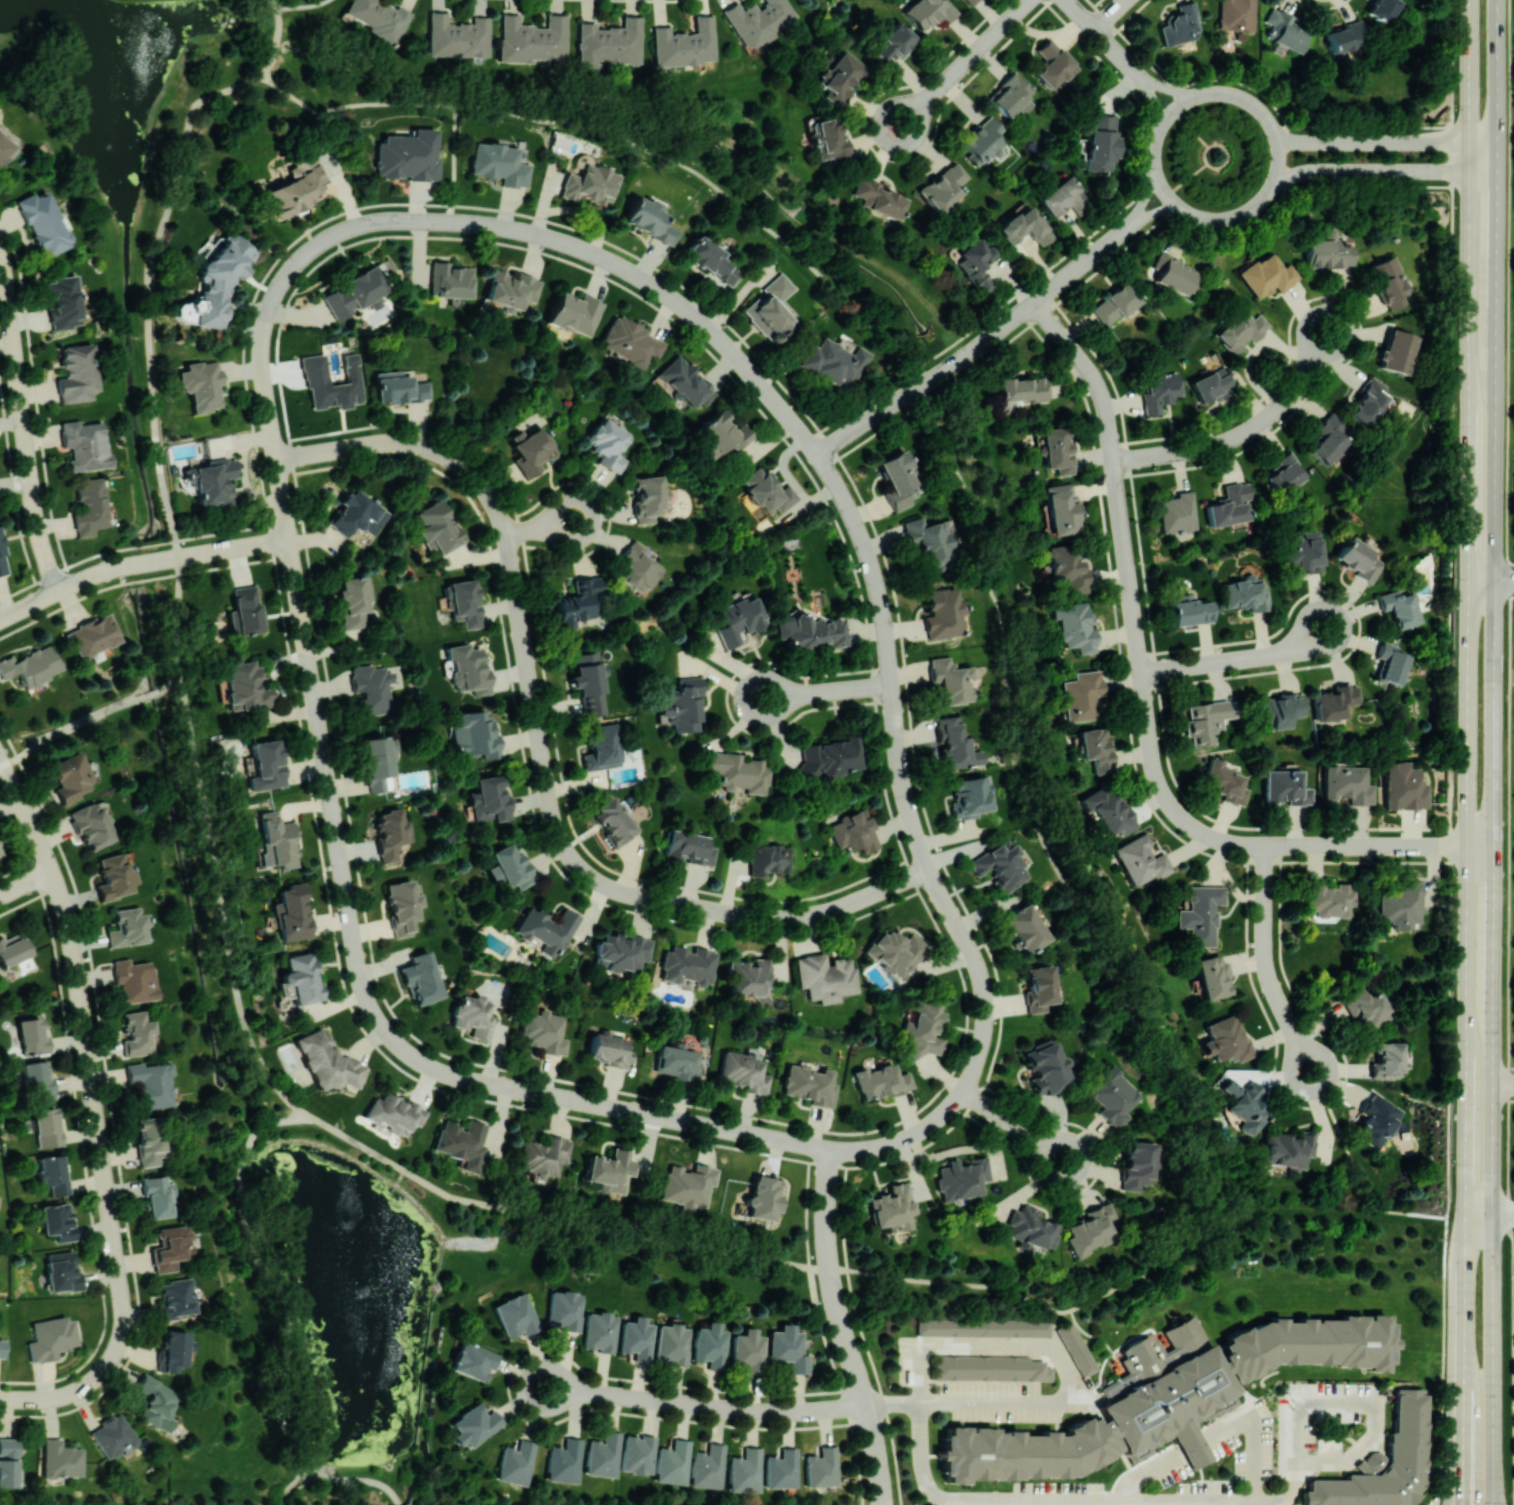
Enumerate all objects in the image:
building: (968, 2)
road: (302, 6)
building: (1381, 9)
building: (929, 12)
building: (1236, 14)
road: (1111, 15)
fountain: (155, 18)
building: (379, 19)
building: (758, 20)
building: (1180, 24)
building: (1285, 30)
building: (457, 36)
road: (1103, 37)
road: (277, 38)
building: (531, 39)
building: (1346, 40)
building: (892, 42)
building: (608, 43)
building: (684, 43)
road: (964, 63)
building: (1051, 64)
road: (1497, 72)
building: (839, 76)
road: (1152, 80)
road: (1470, 86)
road: (1180, 92)
building: (1012, 95)
road: (1155, 97)
road: (1191, 127)
building: (828, 139)
building: (982, 140)
road: (630, 141)
building: (1100, 141)
road: (1386, 143)
fountain: (112, 144)
building: (5, 145)
building: (409, 155)
road: (1202, 156)
building: (499, 163)
road: (454, 164)
road: (1383, 170)
road: (1186, 178)
building: (589, 184)
building: (942, 186)
building: (294, 188)
building: (1059, 196)
building: (878, 198)
road: (1263, 198)
road: (1143, 200)
road: (1149, 213)
road: (393, 220)
building: (649, 220)
road: (428, 221)
road: (451, 222)
building: (43, 223)
building: (1023, 226)
road: (1496, 226)
road: (528, 232)
road: (335, 234)
building: (1328, 251)
building: (710, 260)
building: (975, 264)
road: (1079, 266)
building: (1173, 273)
building: (1267, 275)
building: (449, 280)
building: (216, 282)
building: (511, 288)
building: (356, 290)
road: (149, 292)
road: (275, 295)
building: (62, 302)
building: (1114, 304)
building: (771, 309)
building: (574, 313)
road: (1015, 318)
building: (1241, 330)
road: (720, 340)
road: (262, 342)
building: (630, 342)
road: (980, 345)
building: (1397, 351)
building: (833, 361)
building: (315, 369)
road: (17, 370)
building: (76, 373)
building: (682, 382)
building: (201, 384)
building: (1211, 386)
building: (398, 387)
building: (1022, 388)
building: (1160, 392)
building: (1369, 402)
road: (268, 404)
road: (890, 405)
road: (1108, 423)
building: (721, 433)
road: (1242, 433)
building: (1327, 439)
building: (84, 444)
building: (608, 445)
building: (1056, 449)
building: (531, 450)
building: (1284, 473)
building: (899, 479)
building: (212, 480)
road: (1494, 485)
road: (33, 492)
building: (767, 492)
building: (648, 497)
building: (1229, 505)
building: (89, 506)
building: (1060, 509)
building: (1177, 512)
building: (357, 514)
building: (437, 526)
road: (544, 526)
building: (931, 540)
road: (508, 542)
road: (44, 547)
road: (216, 551)
road: (292, 551)
building: (1299, 552)
building: (2, 559)
building: (1358, 559)
road: (871, 563)
road: (125, 566)
building: (638, 567)
building: (1066, 569)
road: (1129, 579)
road: (1491, 580)
road: (53, 593)
building: (1245, 594)
building: (354, 601)
building: (463, 602)
building: (579, 602)
building: (1400, 607)
building: (244, 610)
building: (1189, 611)
building: (943, 612)
building: (736, 619)
road: (178, 620)
building: (1074, 626)
building: (810, 631)
building: (93, 636)
road: (308, 652)
road: (1510, 655)
road: (1237, 659)
building: (1391, 664)
building: (31, 665)
building: (467, 669)
building: (950, 680)
building: (588, 682)
road: (175, 685)
building: (245, 686)
building: (371, 688)
road: (834, 691)
road: (156, 692)
building: (1081, 695)
road: (770, 698)
building: (1333, 701)
building: (681, 705)
building: (1279, 710)
building: (1207, 720)
road: (70, 726)
building: (474, 734)
road: (897, 734)
building: (955, 744)
building: (602, 747)
building: (1095, 748)
road: (1449, 753)
building: (829, 757)
building: (267, 764)
building: (378, 764)
building: (736, 771)
building: (70, 777)
building: (1225, 782)
building: (1347, 784)
building: (1403, 786)
building: (1285, 787)
building: (969, 797)
building: (488, 798)
building: (1108, 810)
building: (614, 821)
building: (90, 825)
building: (853, 831)
building: (391, 833)
road: (1218, 838)
road: (1467, 838)
building: (278, 839)
building: (689, 846)
building: (0, 852)
building: (768, 859)
road: (575, 860)
building: (1140, 860)
building: (1000, 865)
building: (511, 866)
building: (494, 873)
building: (113, 875)
road: (26, 883)
road: (886, 888)
building: (1328, 898)
road: (221, 905)
building: (403, 906)
building: (1400, 906)
road: (716, 910)
road: (833, 910)
building: (293, 913)
building: (1200, 914)
building: (127, 927)
building: (1024, 928)
building: (547, 929)
building: (13, 948)
building: (895, 951)
building: (620, 952)
road: (1267, 962)
building: (688, 964)
building: (825, 976)
building: (302, 977)
building: (420, 977)
building: (1211, 977)
building: (751, 978)
building: (134, 979)
building: (1038, 987)
road: (1127, 991)
road: (366, 995)
building: (1367, 1007)
road: (987, 1010)
building: (472, 1016)
building: (544, 1031)
building: (136, 1033)
building: (32, 1036)
building: (1226, 1039)
building: (608, 1048)
building: (1387, 1060)
building: (327, 1061)
building: (678, 1061)
road: (89, 1064)
building: (1045, 1068)
building: (744, 1071)
building: (38, 1081)
building: (880, 1081)
building: (151, 1083)
road: (1492, 1084)
road: (1503, 1084)
building: (809, 1085)
building: (1111, 1096)
building: (1245, 1105)
building: (393, 1113)
building: (1377, 1119)
road: (681, 1120)
road: (1014, 1126)
building: (47, 1127)
road: (763, 1136)
building: (150, 1141)
building: (1288, 1149)
road: (961, 1150)
building: (544, 1155)
building: (1136, 1164)
building: (609, 1171)
road: (1358, 1172)
building: (53, 1174)
building: (962, 1177)
building: (688, 1185)
building: (158, 1196)
building: (763, 1197)
building: (892, 1208)
road: (1502, 1213)
road: (556, 1217)
road: (827, 1219)
fountain: (348, 1220)
building: (57, 1221)
building: (1031, 1228)
building: (1091, 1229)
building: (172, 1247)
building: (62, 1271)
fountain: (369, 1295)
building: (176, 1298)
road: (837, 1306)
building: (564, 1309)
building: (516, 1315)
road: (287, 1321)
building: (983, 1327)
building: (600, 1331)
building: (50, 1337)
building: (637, 1338)
road: (991, 1342)
building: (672, 1344)
building: (711, 1345)
building: (1, 1348)
building: (789, 1348)
building: (1076, 1348)
building: (173, 1349)
building: (749, 1350)
building: (473, 1361)
building: (990, 1367)
fountain: (371, 1380)
road: (567, 1389)
building: (1167, 1394)
road: (52, 1397)
building: (157, 1402)
road: (958, 1403)
road: (727, 1408)
road: (868, 1412)
building: (474, 1424)
road: (1253, 1430)
building: (113, 1435)
road: (1193, 1444)
building: (603, 1454)
building: (638, 1454)
building: (60, 1459)
building: (564, 1461)
building: (7, 1462)
building: (516, 1462)
building: (673, 1462)
building: (1384, 1464)
building: (708, 1466)
building: (822, 1467)
building: (782, 1469)
road: (1146, 1470)
building: (745, 1471)
road: (1216, 1500)
traffic signals: (1463, 1502)

